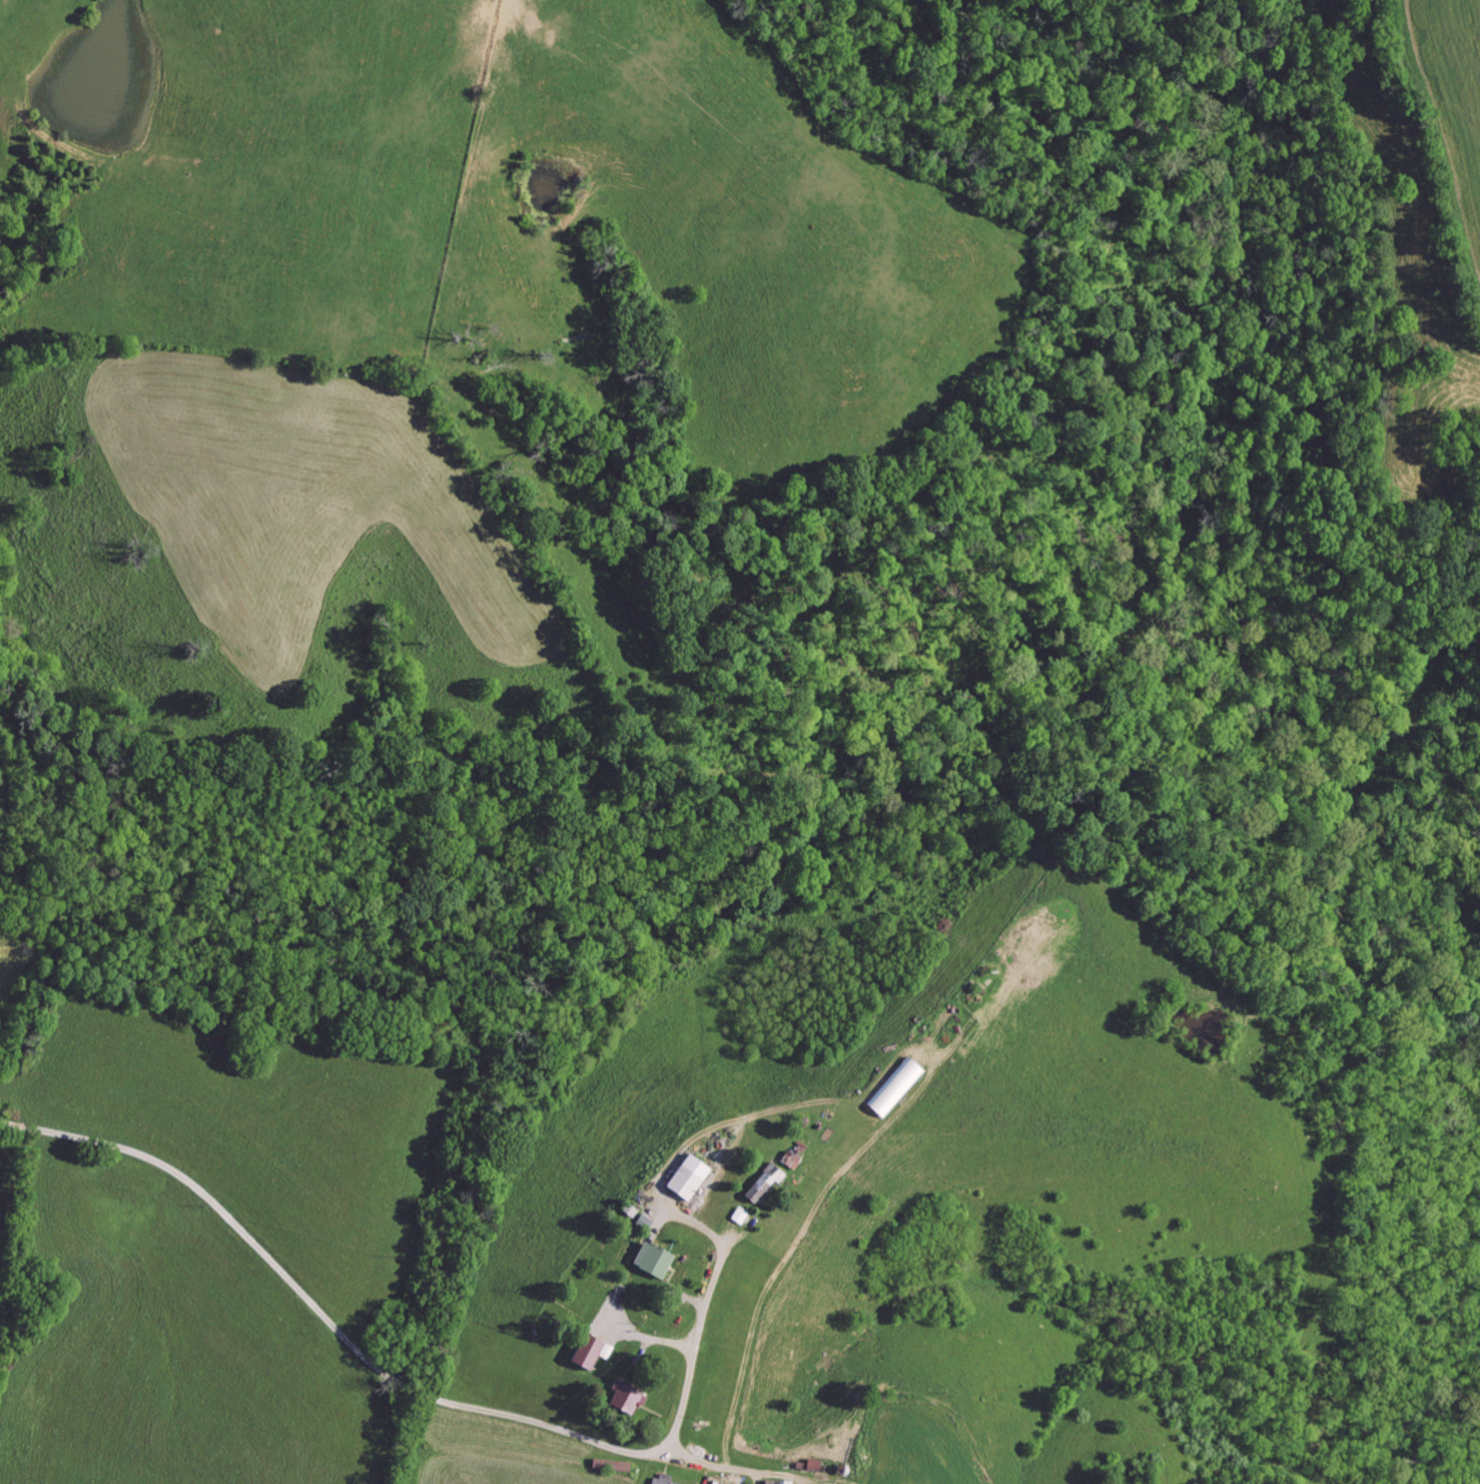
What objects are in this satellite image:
building: (893, 1088)
building: (789, 1161)
building: (773, 1173)
building: (686, 1178)
building: (758, 1189)
building: (738, 1216)
building: (652, 1260)
road: (695, 1319)
road: (357, 1347)
building: (585, 1352)
building: (625, 1398)
building: (662, 1480)
building: (775, 1482)
building: (720, 1483)

